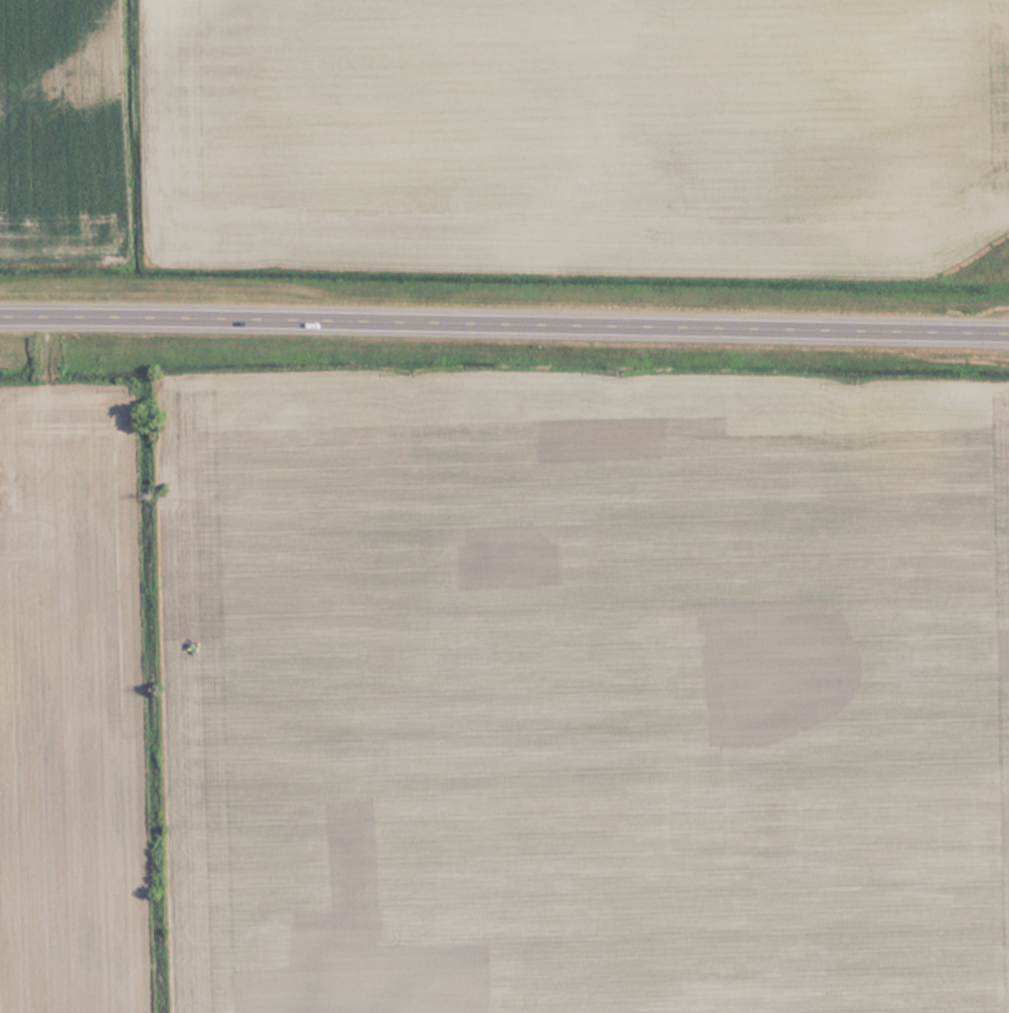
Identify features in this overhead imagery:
road: (504, 322)

